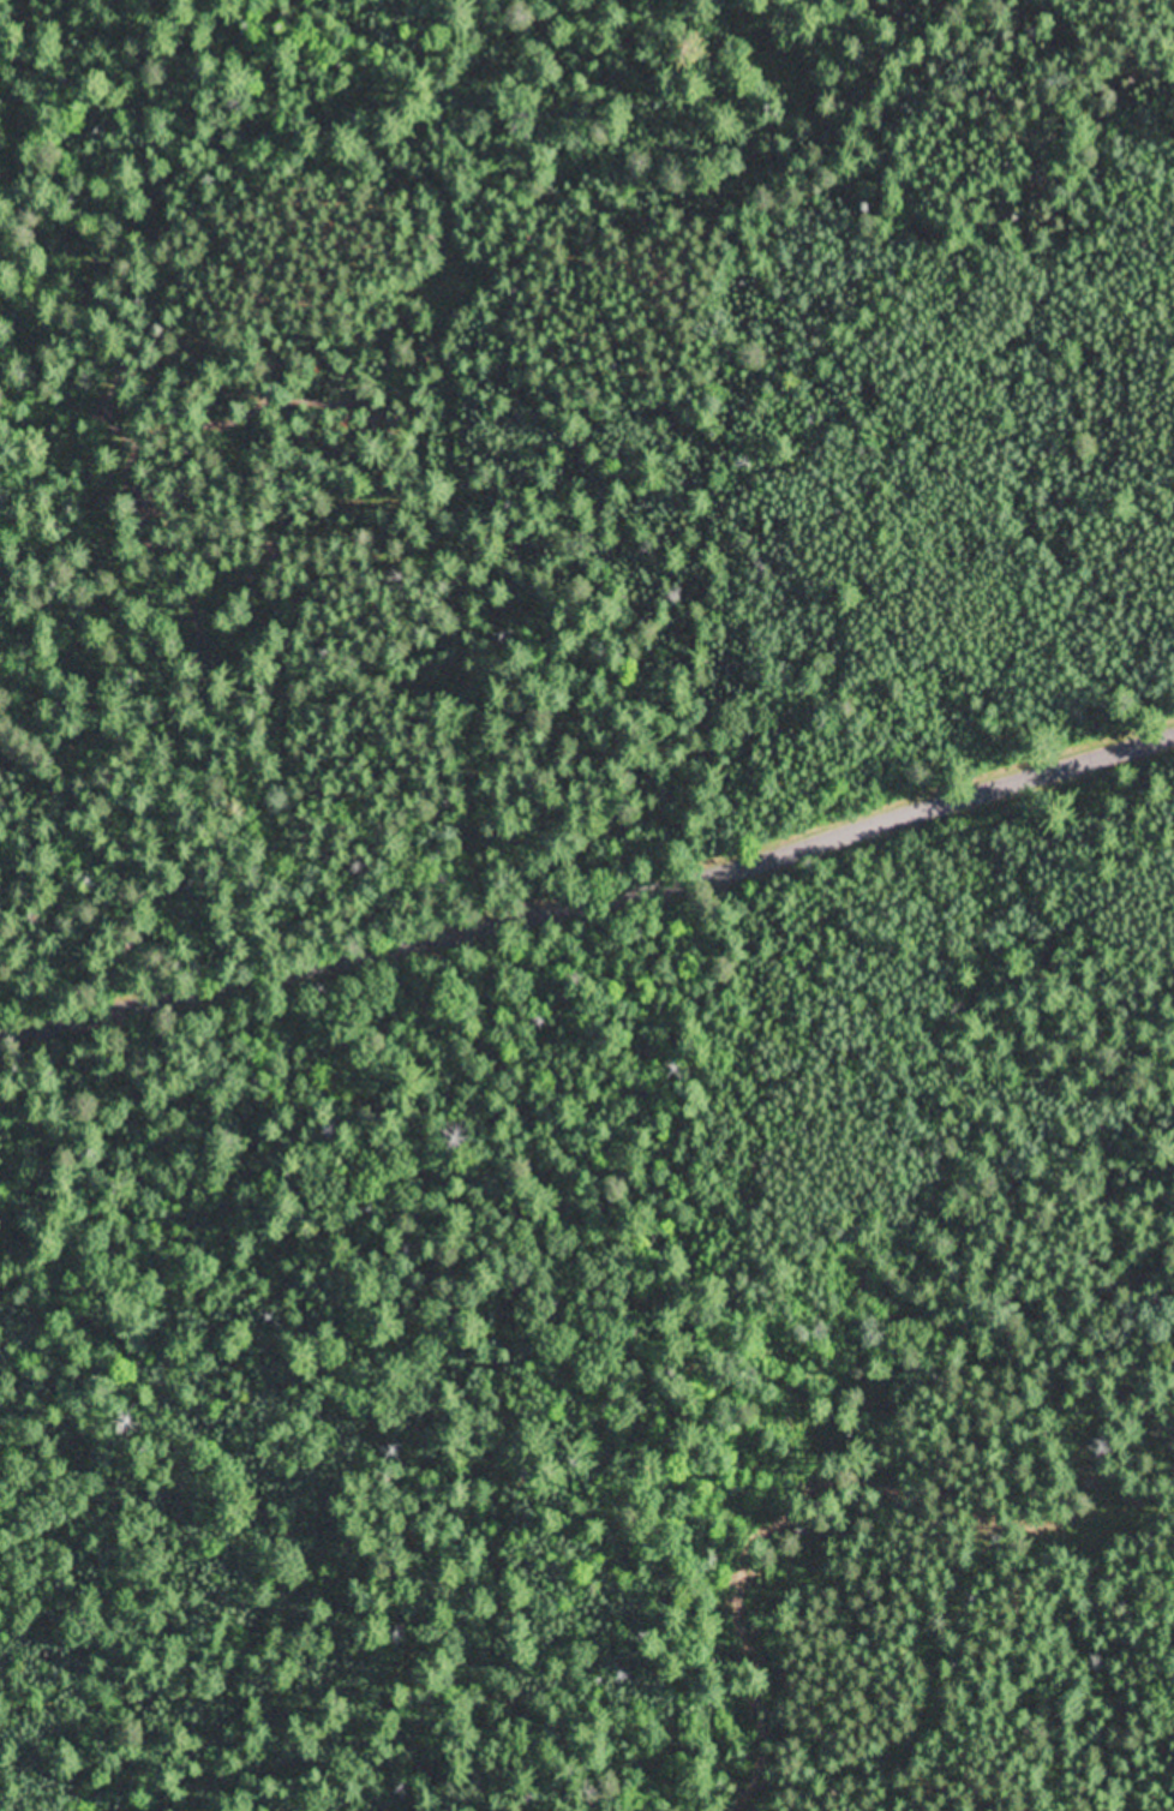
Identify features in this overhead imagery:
road: (594, 909)

